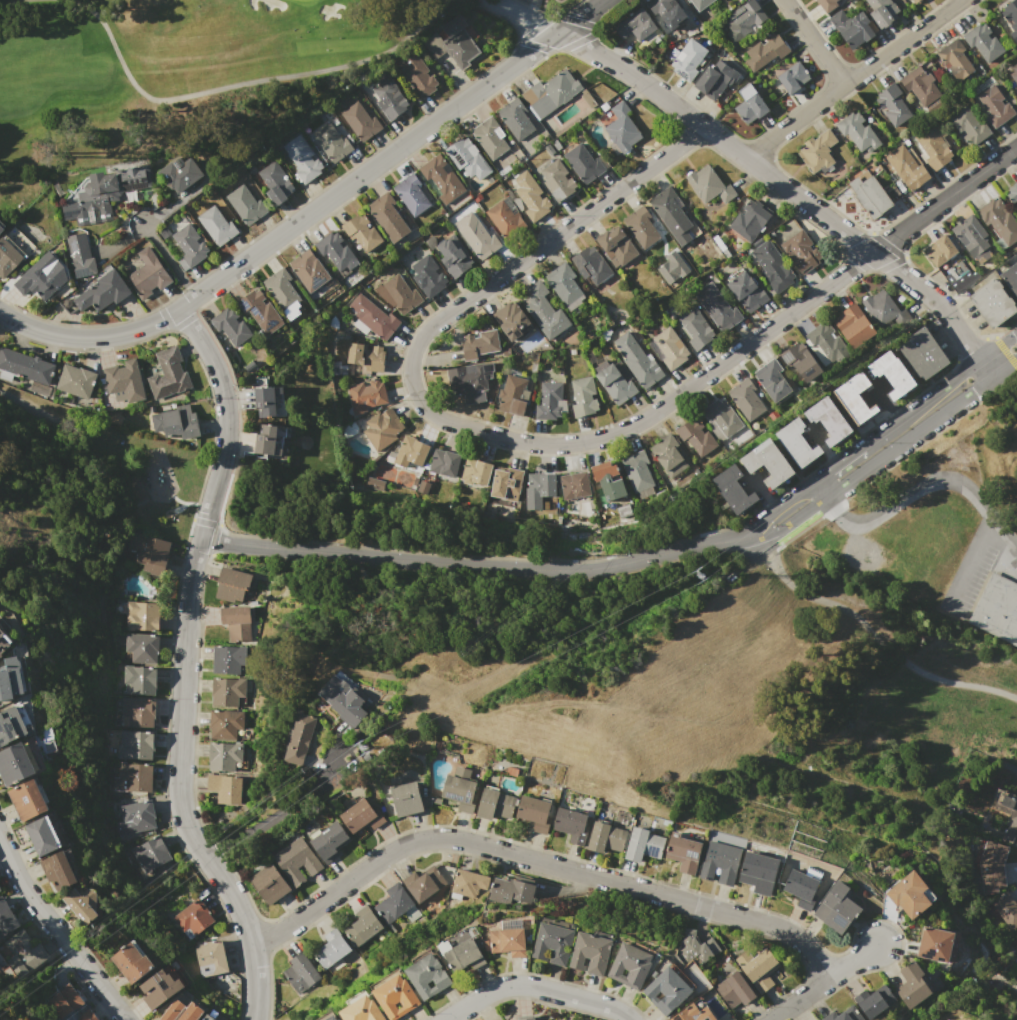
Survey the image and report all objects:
building: (558, 0)
building: (912, 1)
building: (700, 3)
building: (827, 4)
building: (884, 11)
building: (666, 12)
building: (1011, 16)
building: (742, 20)
building: (635, 25)
building: (852, 28)
road: (814, 42)
building: (984, 42)
building: (451, 46)
building: (764, 51)
building: (687, 58)
building: (955, 60)
building: (1012, 73)
park: (180, 77)
building: (416, 77)
building: (793, 77)
building: (712, 78)
road: (852, 78)
building: (919, 85)
building: (550, 93)
building: (389, 98)
building: (749, 104)
building: (892, 105)
building: (994, 105)
building: (516, 119)
building: (360, 121)
building: (969, 126)
building: (622, 128)
building: (857, 132)
building: (490, 136)
building: (331, 142)
building: (932, 149)
building: (817, 152)
building: (467, 157)
building: (302, 159)
building: (584, 162)
road: (756, 166)
building: (906, 167)
building: (180, 173)
building: (441, 179)
building: (557, 180)
building: (275, 183)
building: (707, 185)
building: (1012, 193)
building: (105, 194)
building: (411, 194)
building: (528, 195)
building: (869, 196)
road: (944, 198)
building: (245, 205)
building: (1016, 208)
road: (314, 209)
building: (670, 214)
building: (389, 217)
building: (503, 218)
building: (750, 220)
building: (998, 221)
building: (216, 225)
building: (640, 227)
building: (1, 228)
building: (362, 233)
building: (479, 237)
building: (972, 238)
building: (188, 246)
building: (615, 246)
building: (940, 250)
building: (336, 251)
building: (800, 251)
building: (79, 255)
building: (9, 257)
building: (453, 257)
road: (167, 259)
building: (591, 265)
building: (773, 266)
building: (308, 270)
building: (146, 273)
building: (428, 276)
building: (39, 277)
building: (1011, 277)
building: (565, 286)
building: (283, 292)
building: (746, 292)
building: (102, 293)
building: (398, 293)
building: (993, 303)
building: (715, 306)
building: (879, 307)
building: (545, 311)
building: (260, 312)
building: (372, 318)
building: (512, 321)
building: (853, 325)
building: (230, 328)
building: (696, 328)
building: (823, 343)
building: (479, 344)
building: (670, 347)
power tower: (1013, 348)
building: (923, 353)
building: (365, 356)
building: (638, 360)
building: (799, 361)
building: (25, 366)
building: (168, 374)
building: (891, 374)
building: (466, 379)
building: (771, 380)
building: (76, 381)
building: (123, 381)
building: (615, 383)
building: (365, 395)
building: (512, 395)
building: (582, 396)
building: (745, 398)
building: (855, 398)
building: (548, 401)
building: (269, 403)
road: (915, 407)
building: (722, 416)
building: (827, 420)
building: (176, 422)
road: (461, 426)
road: (921, 426)
building: (382, 430)
building: (696, 436)
building: (269, 438)
building: (797, 443)
building: (411, 452)
building: (669, 456)
building: (444, 462)
building: (769, 462)
park: (98, 466)
building: (475, 473)
building: (638, 473)
building: (608, 479)
building: (506, 483)
building: (574, 485)
building: (538, 488)
road: (820, 488)
building: (735, 490)
road: (910, 492)
road: (776, 509)
building: (623, 511)
road: (785, 525)
road: (1006, 533)
building: (149, 552)
road: (469, 563)
road: (973, 564)
power tower: (705, 575)
road: (189, 580)
building: (232, 584)
building: (996, 608)
building: (141, 616)
building: (236, 622)
road: (869, 632)
building: (4, 643)
building: (142, 647)
building: (227, 659)
building: (10, 679)
building: (140, 681)
building: (226, 691)
building: (343, 700)
building: (137, 713)
building: (225, 723)
building: (11, 726)
building: (301, 738)
power tower: (369, 742)
building: (135, 744)
building: (224, 756)
building: (16, 763)
building: (131, 777)
building: (225, 788)
building: (460, 789)
building: (406, 799)
building: (28, 800)
building: (1008, 803)
building: (494, 804)
road: (278, 812)
building: (536, 813)
building: (361, 816)
building: (134, 818)
building: (571, 825)
building: (42, 836)
building: (606, 838)
building: (330, 842)
building: (643, 845)
building: (683, 852)
building: (151, 854)
road: (536, 855)
building: (296, 861)
building: (720, 862)
building: (990, 867)
building: (58, 871)
building: (758, 872)
building: (423, 883)
building: (467, 883)
building: (270, 884)
building: (802, 888)
building: (511, 890)
building: (909, 894)
building: (82, 902)
road: (234, 903)
building: (393, 903)
building: (837, 907)
building: (1003, 909)
building: (6, 918)
building: (192, 918)
building: (362, 925)
road: (57, 931)
building: (508, 941)
building: (553, 943)
building: (935, 944)
building: (331, 948)
building: (693, 949)
building: (23, 953)
building: (591, 953)
building: (465, 955)
building: (211, 957)
building: (133, 961)
building: (629, 966)
building: (757, 967)
building: (300, 973)
building: (427, 976)
road: (824, 983)
road: (255, 984)
building: (912, 985)
road: (536, 988)
building: (161, 989)
building: (735, 990)
building: (667, 991)
building: (395, 996)
building: (64, 1001)
building: (870, 1005)
building: (362, 1010)
building: (172, 1011)
building: (192, 1012)
building: (694, 1012)
building: (87, 1015)
building: (209, 1017)
building: (526, 1017)
building: (843, 1017)
building: (332, 1018)
building: (499, 1019)

